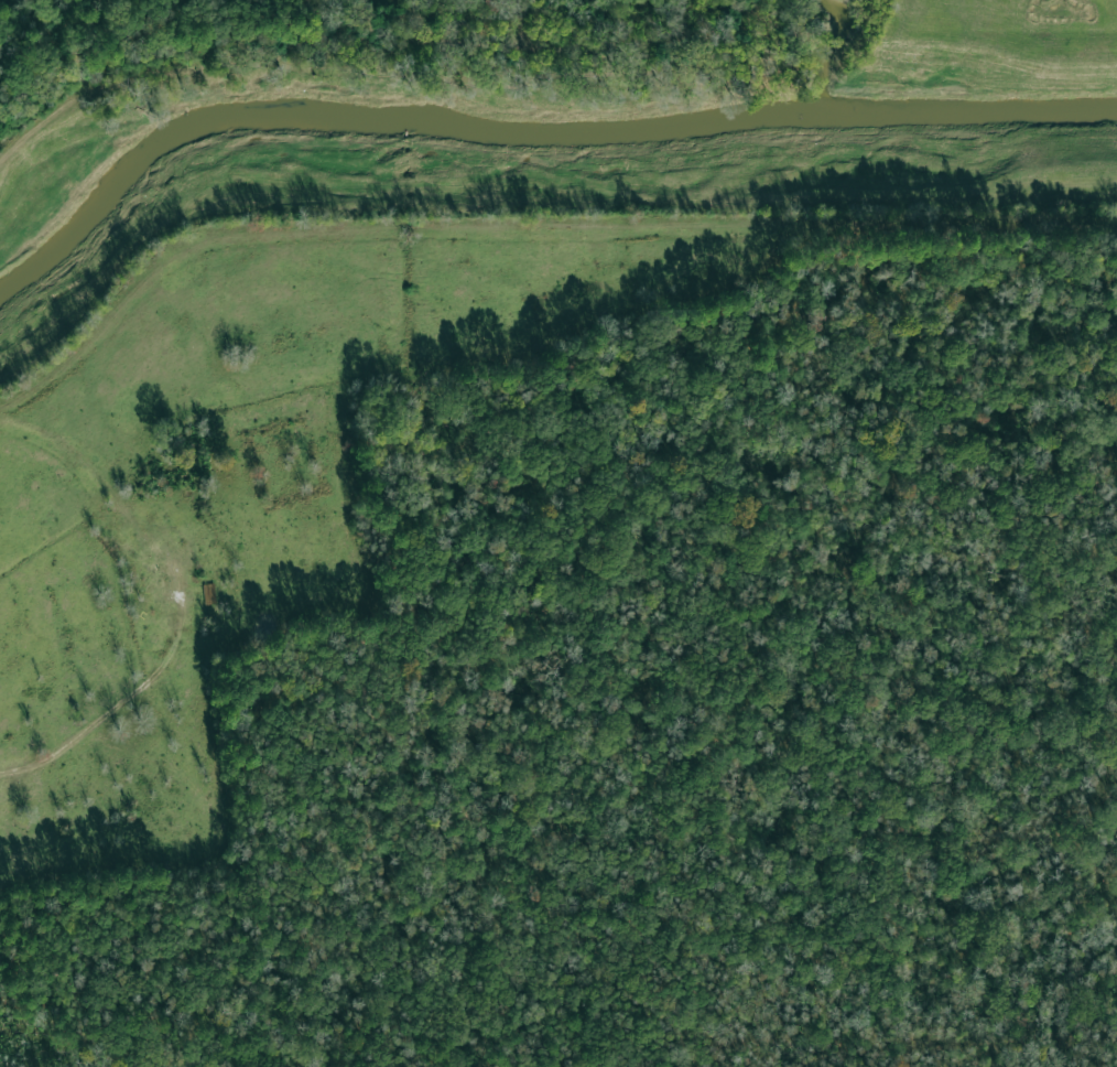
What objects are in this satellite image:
river: (531, 128)

